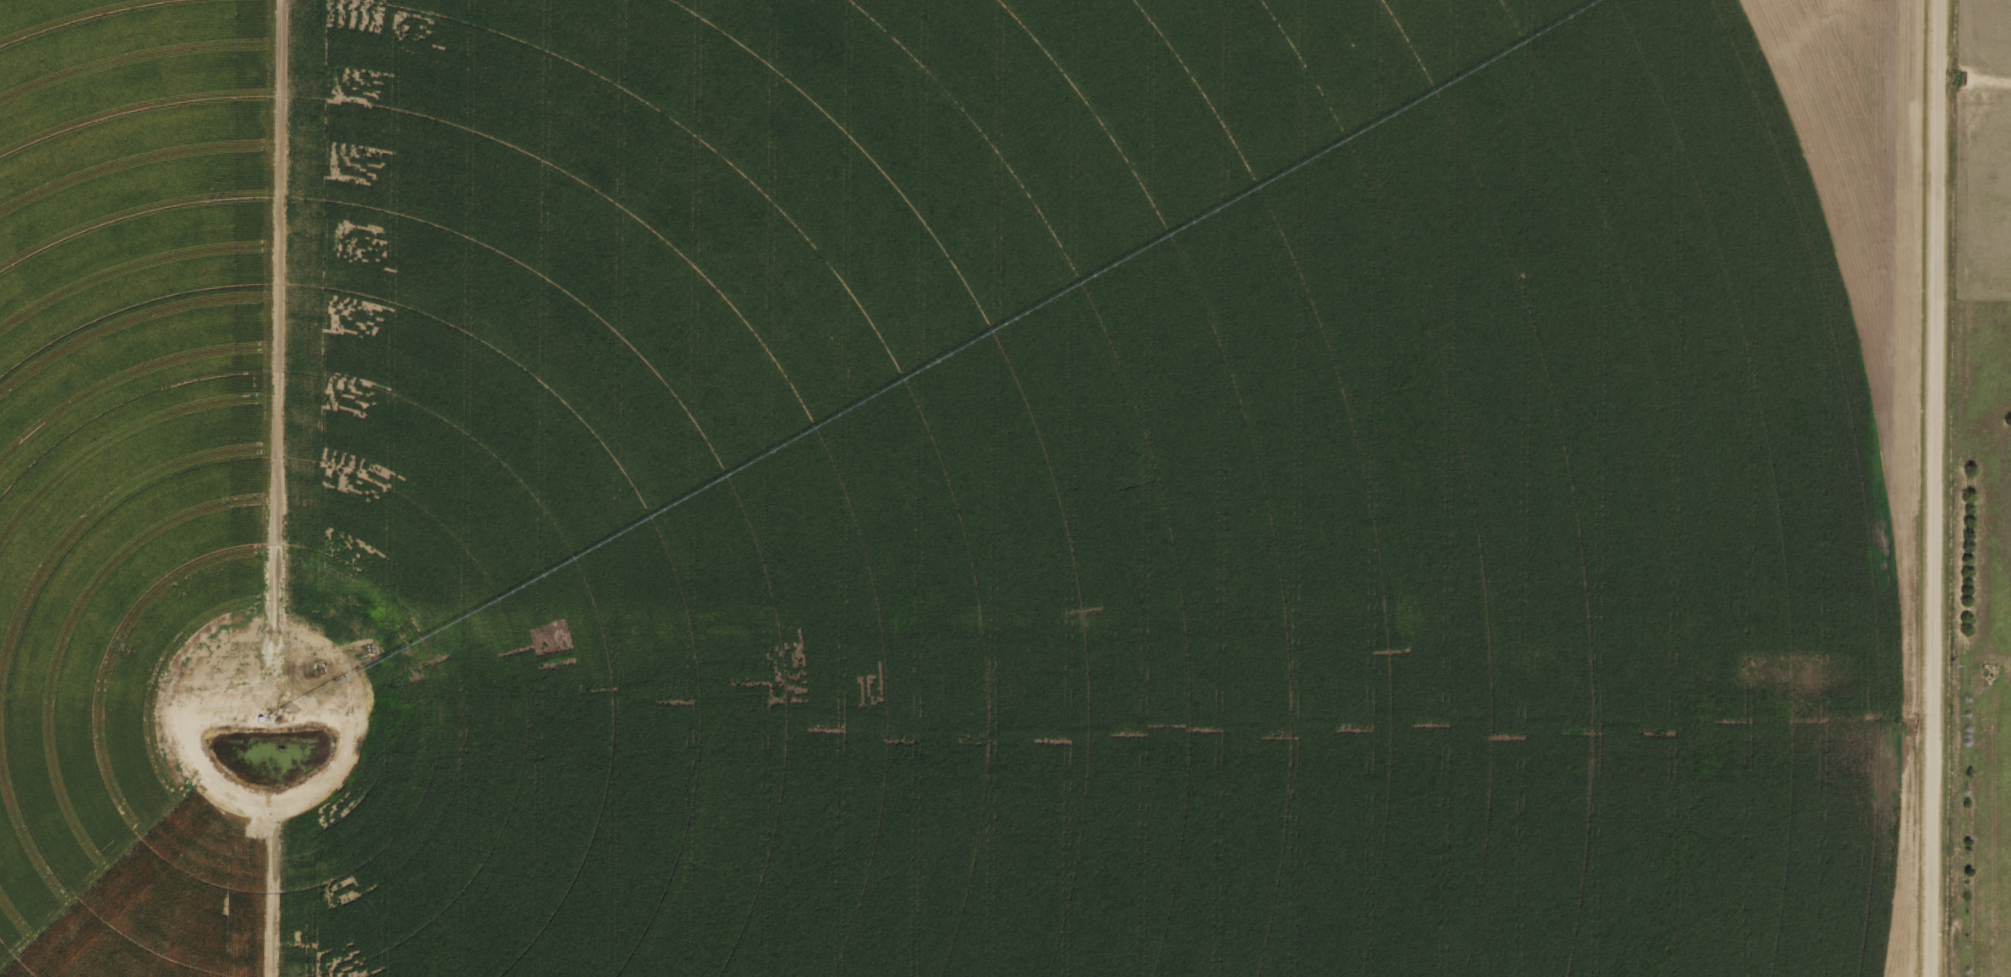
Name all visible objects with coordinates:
road: (1938, 488)

